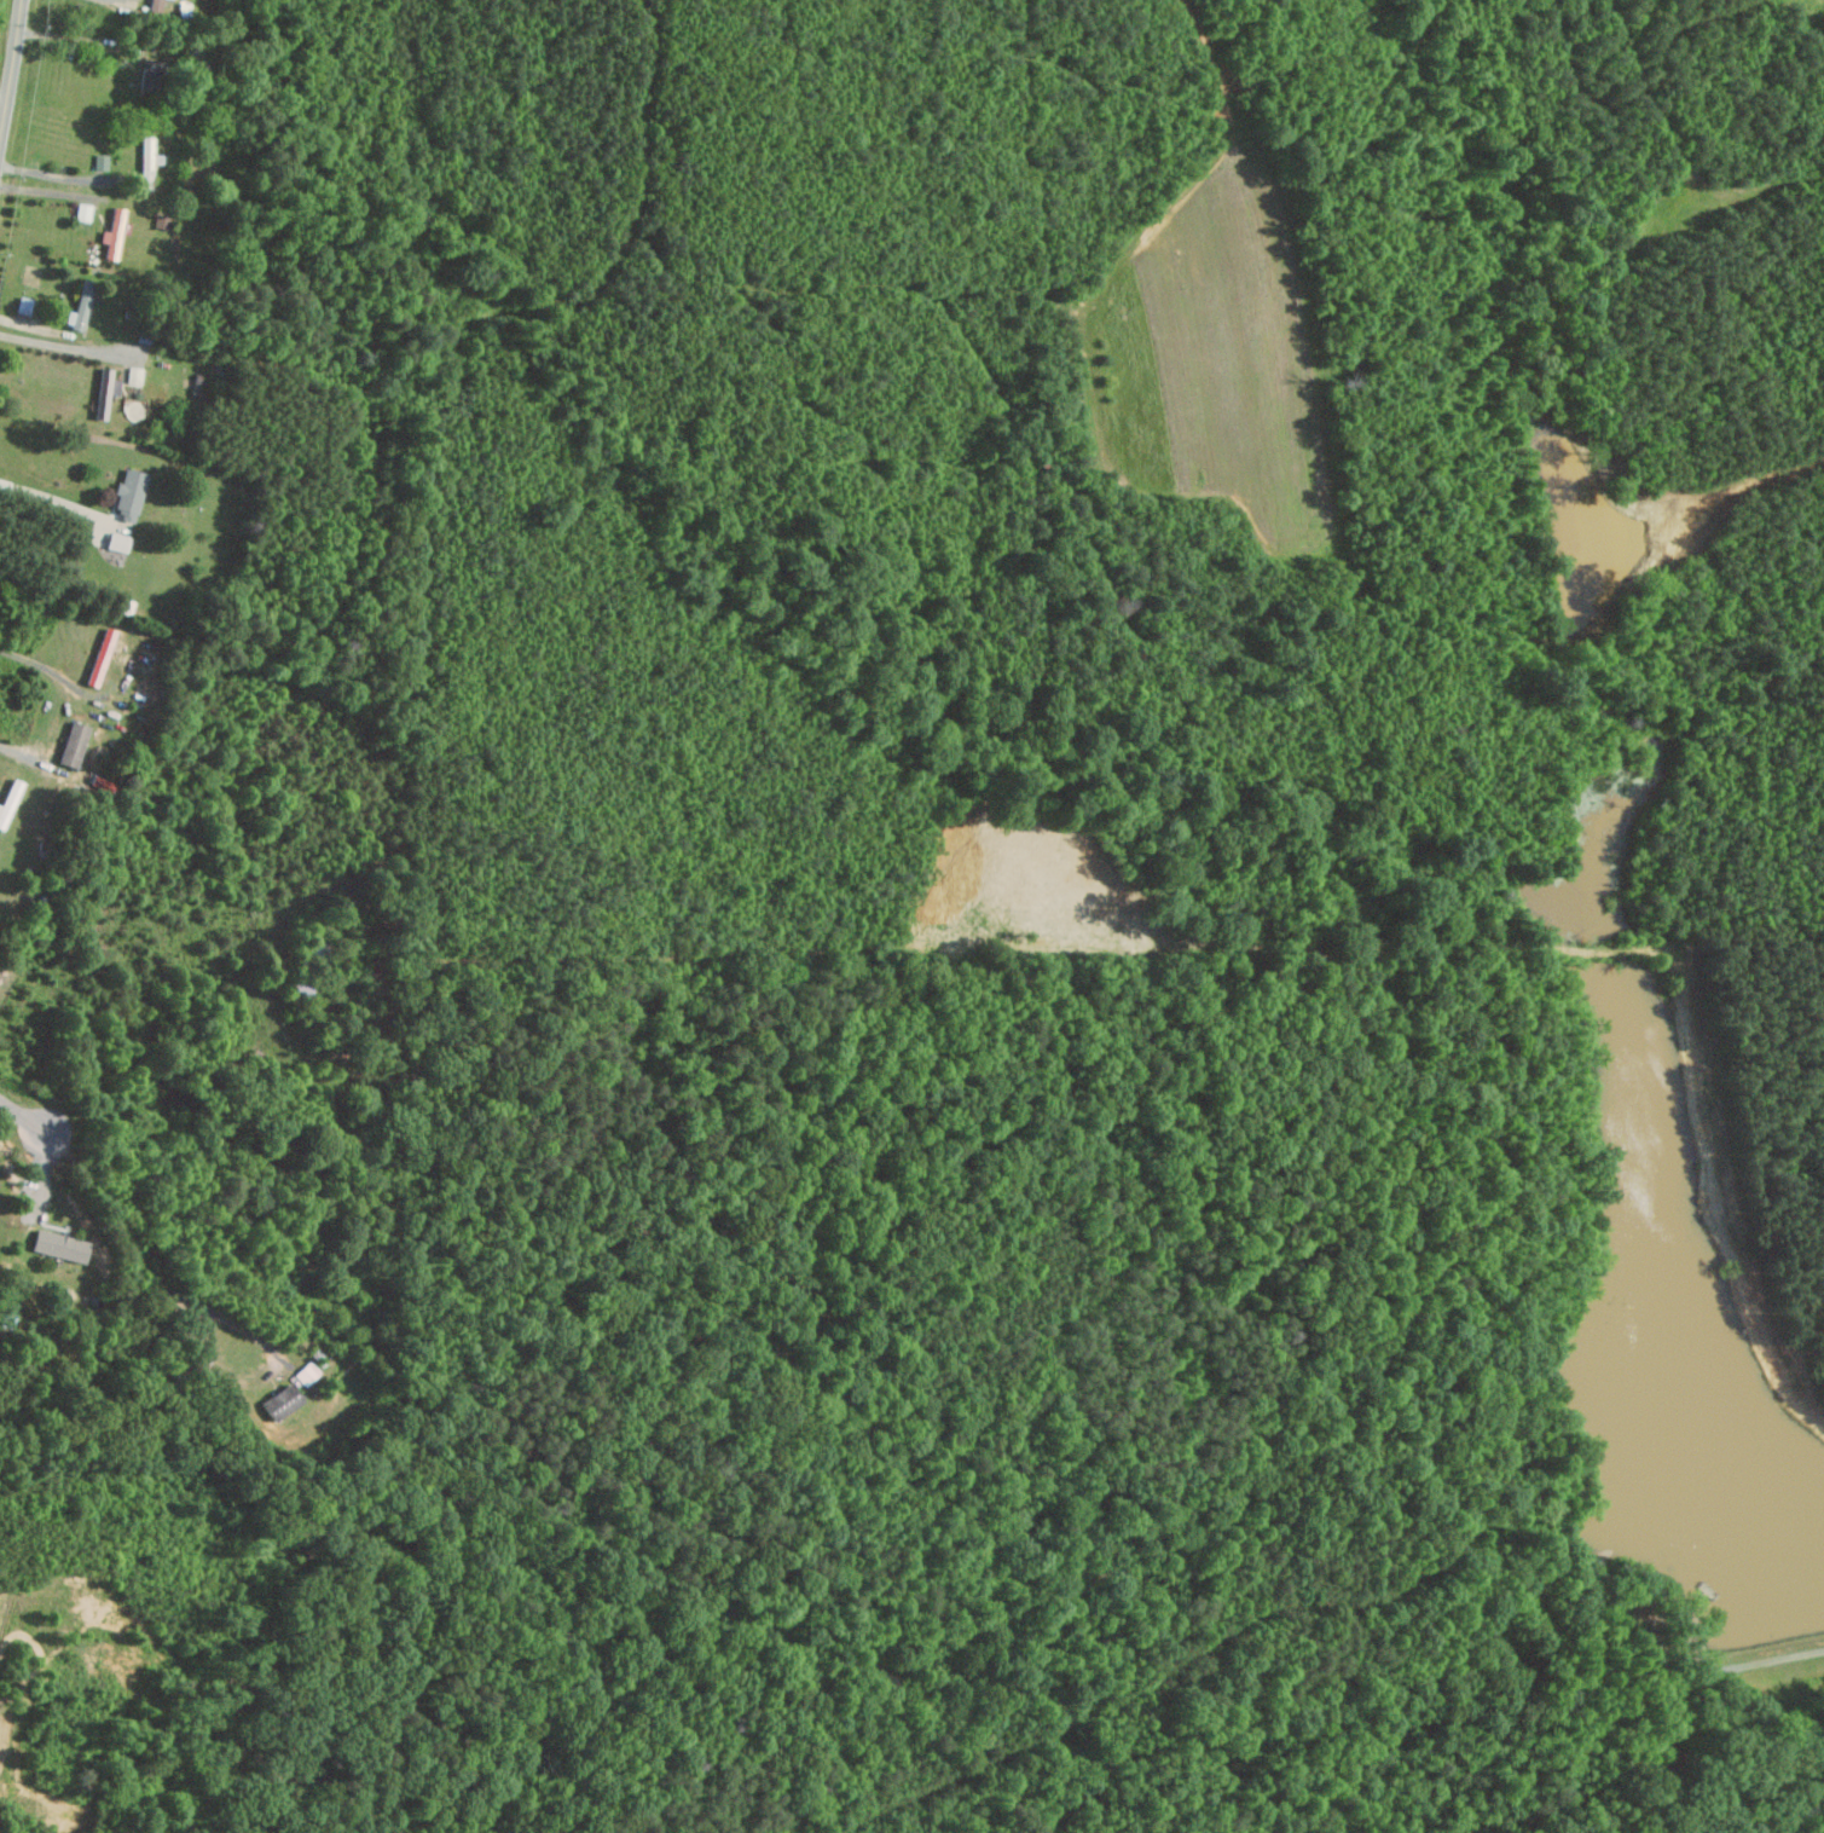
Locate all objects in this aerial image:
building: (155, 4)
road: (85, 37)
road: (12, 69)
building: (147, 161)
building: (100, 162)
road: (65, 178)
building: (82, 212)
building: (112, 233)
building: (24, 305)
building: (80, 305)
road: (60, 345)
building: (105, 391)
building: (128, 492)
road: (47, 498)
building: (117, 540)
building: (99, 655)
road: (48, 670)
building: (73, 744)
road: (21, 752)
road: (25, 1115)
building: (58, 1245)
building: (307, 1372)
building: (280, 1401)

